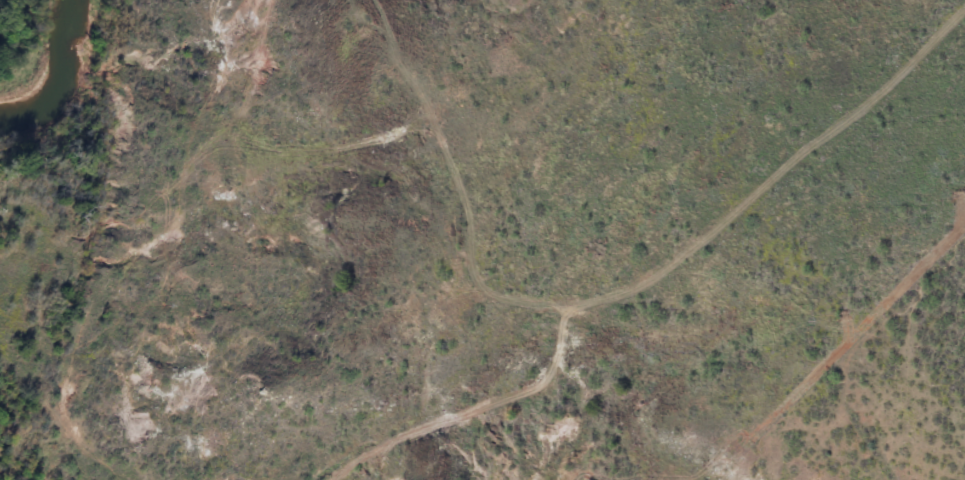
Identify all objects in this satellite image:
river: (56, 66)

